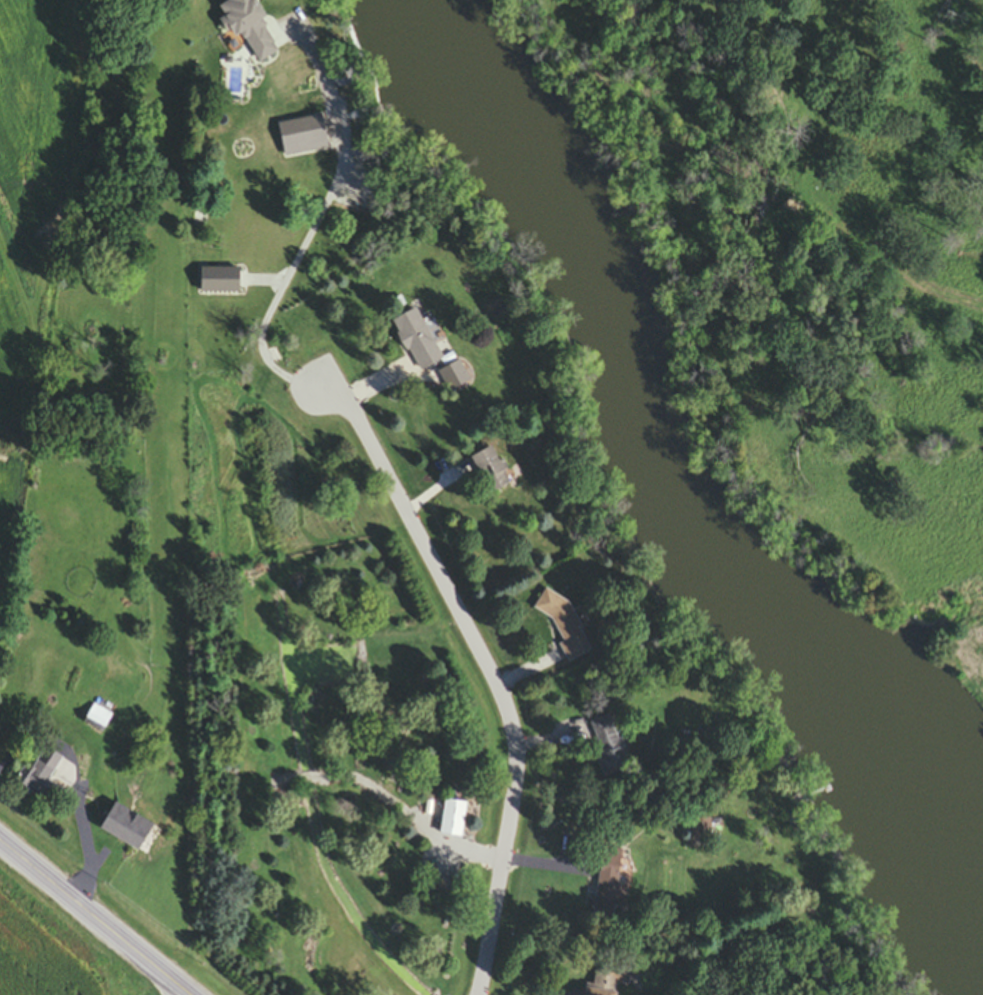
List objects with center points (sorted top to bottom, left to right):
building: (245, 28)
building: (303, 138)
road: (314, 232)
building: (416, 342)
building: (452, 378)
river: (654, 456)
building: (488, 472)
building: (563, 625)
road: (492, 678)
building: (610, 749)
building: (37, 774)
building: (452, 820)
building: (123, 827)
building: (701, 828)
road: (82, 837)
building: (609, 884)
road: (95, 915)
building: (602, 984)

